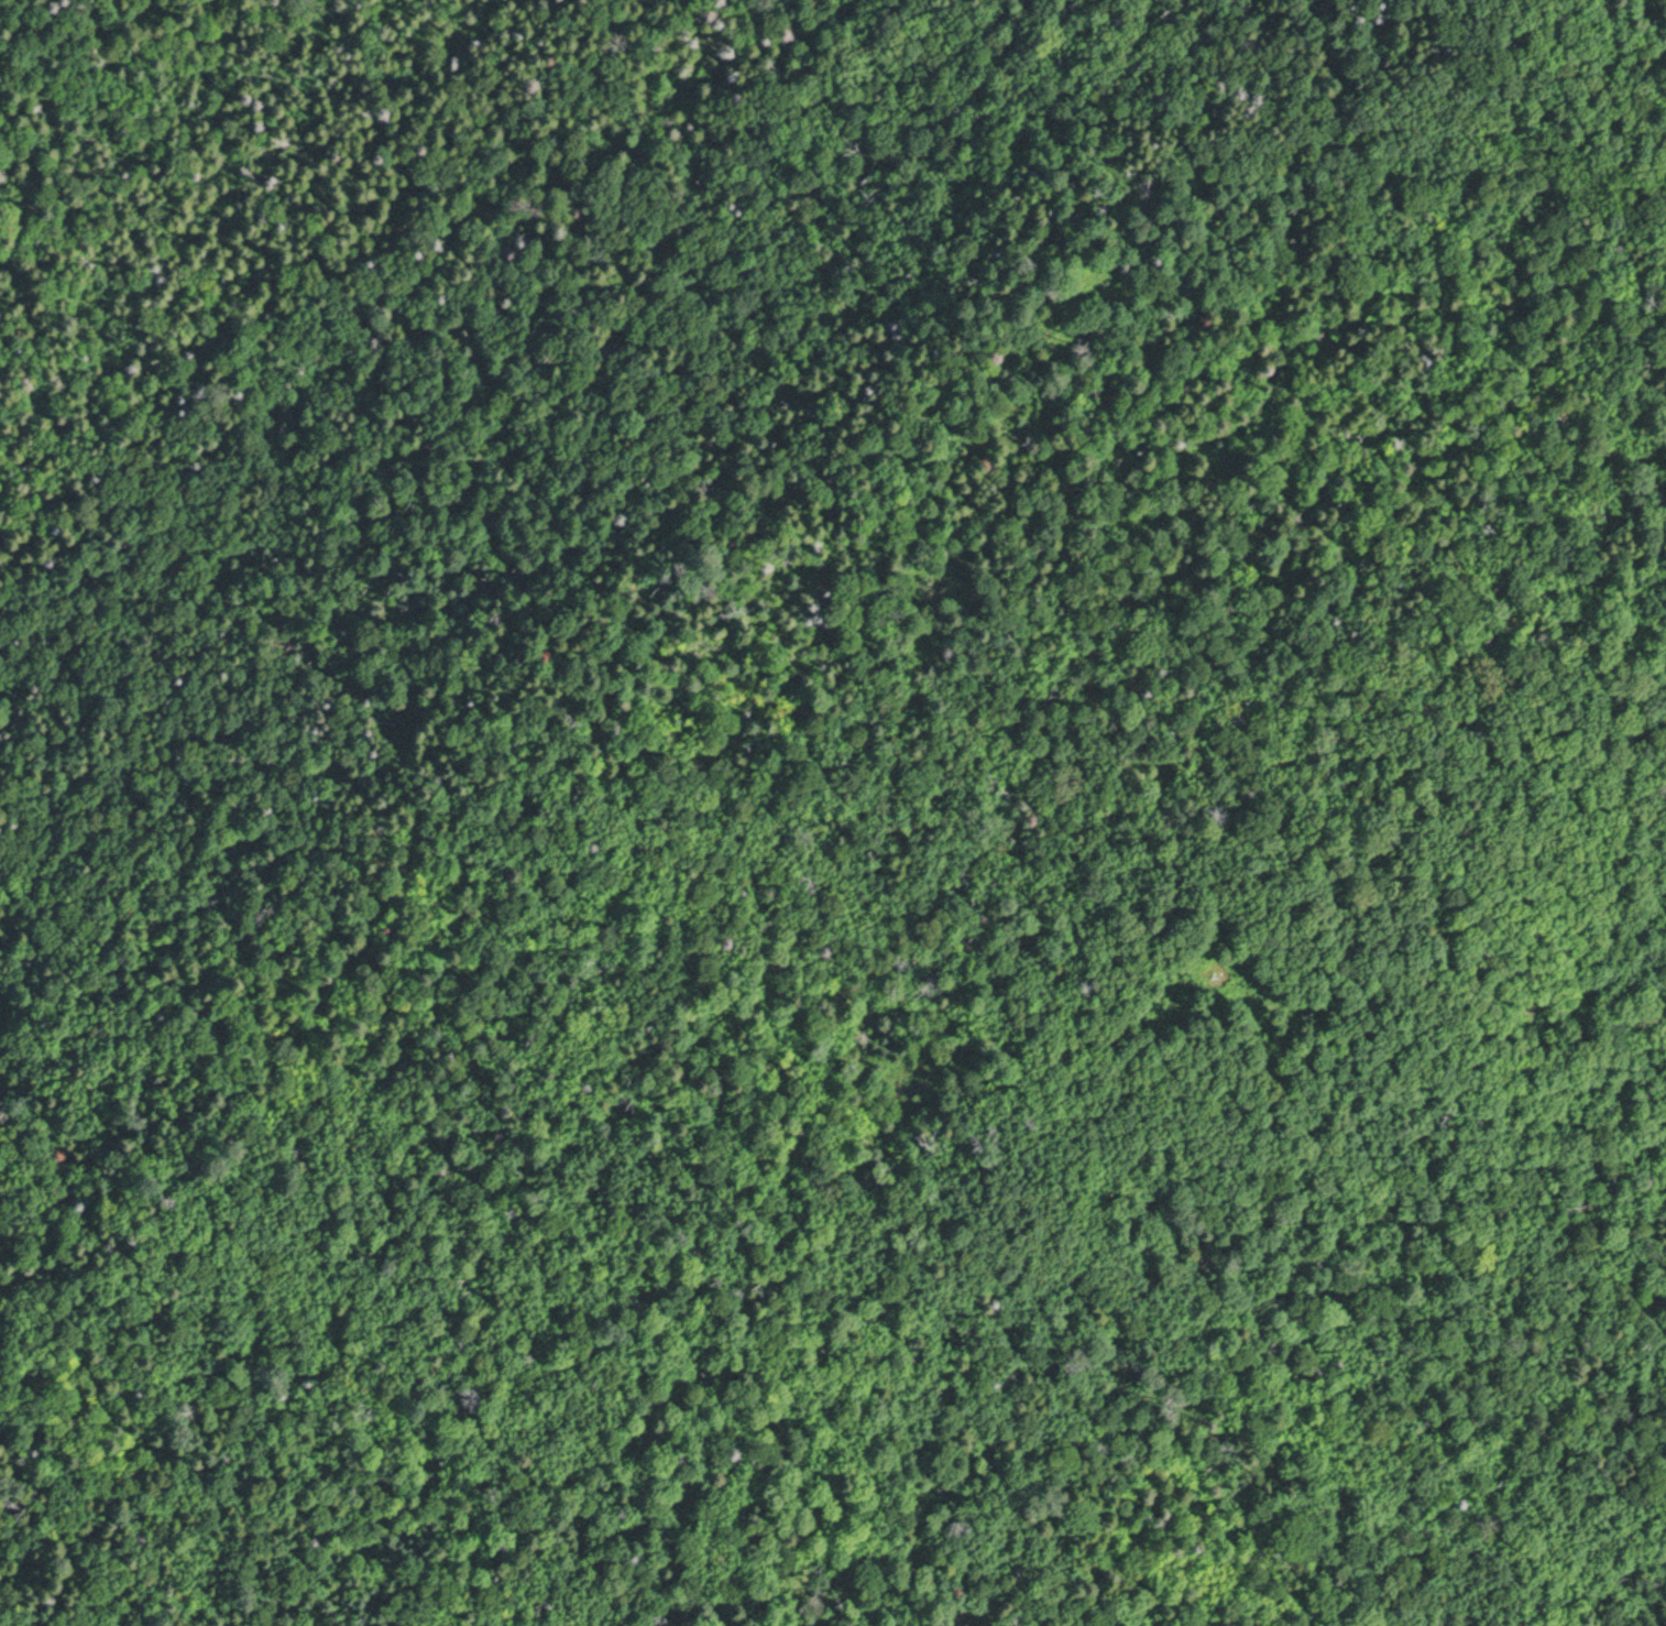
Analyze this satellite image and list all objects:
road: (639, 150)

